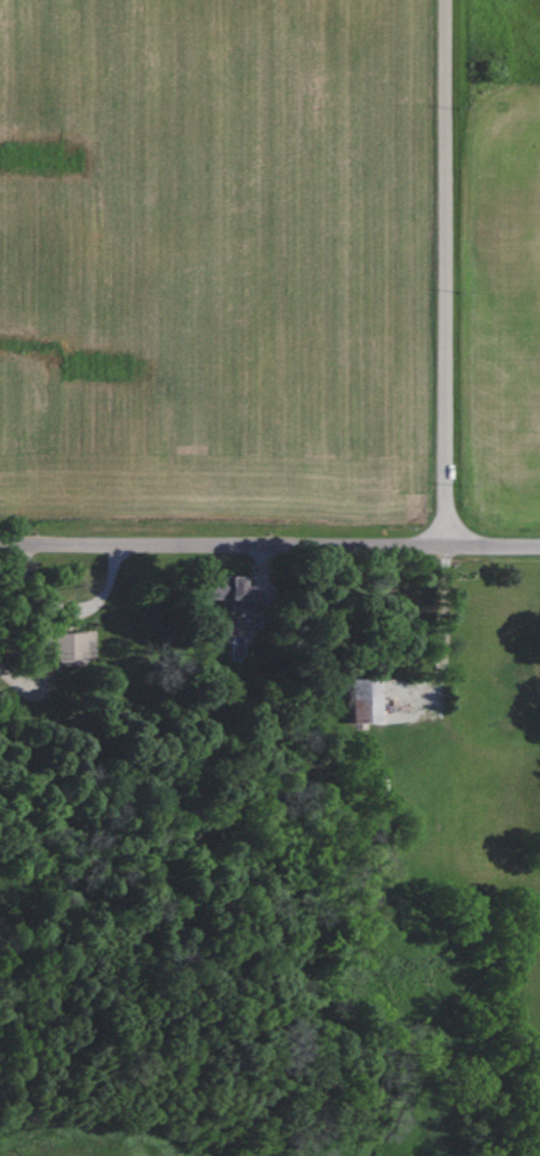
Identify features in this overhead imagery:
road: (446, 273)
road: (269, 545)
building: (221, 589)
building: (60, 650)
building: (361, 701)
road: (451, 709)

